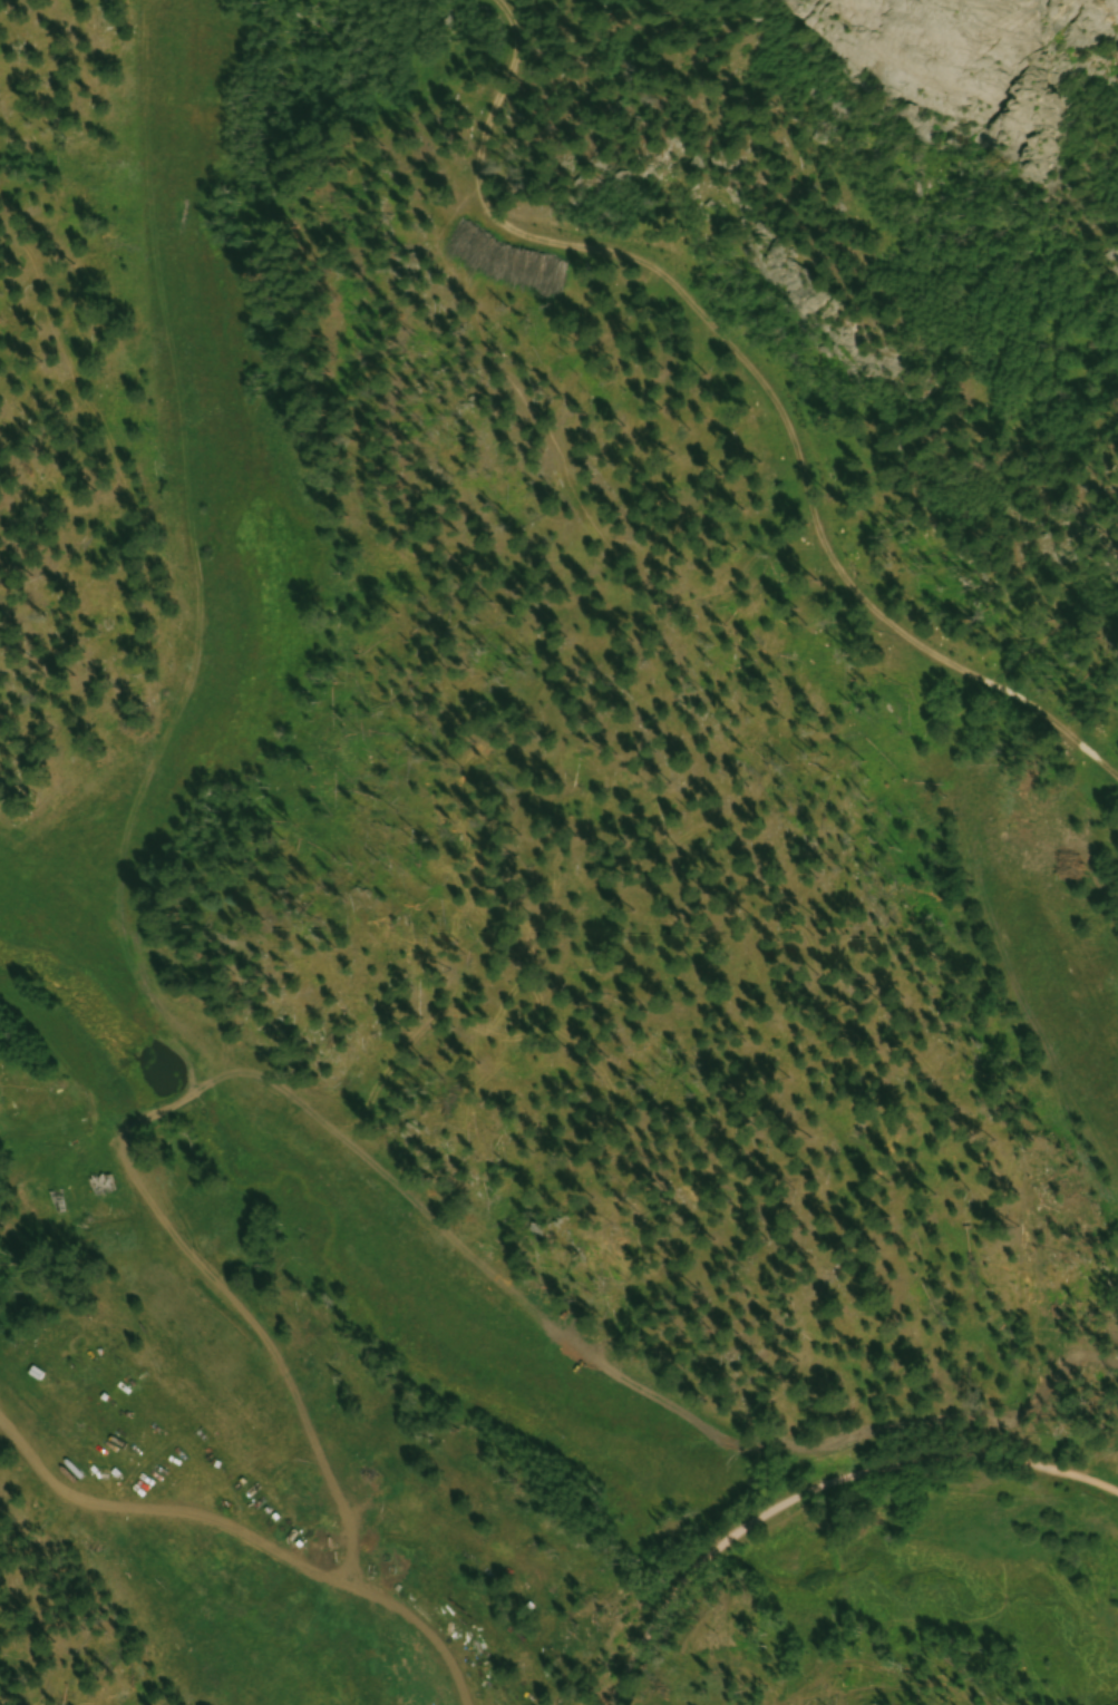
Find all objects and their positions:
building: (107, 1187)
road: (823, 1492)

